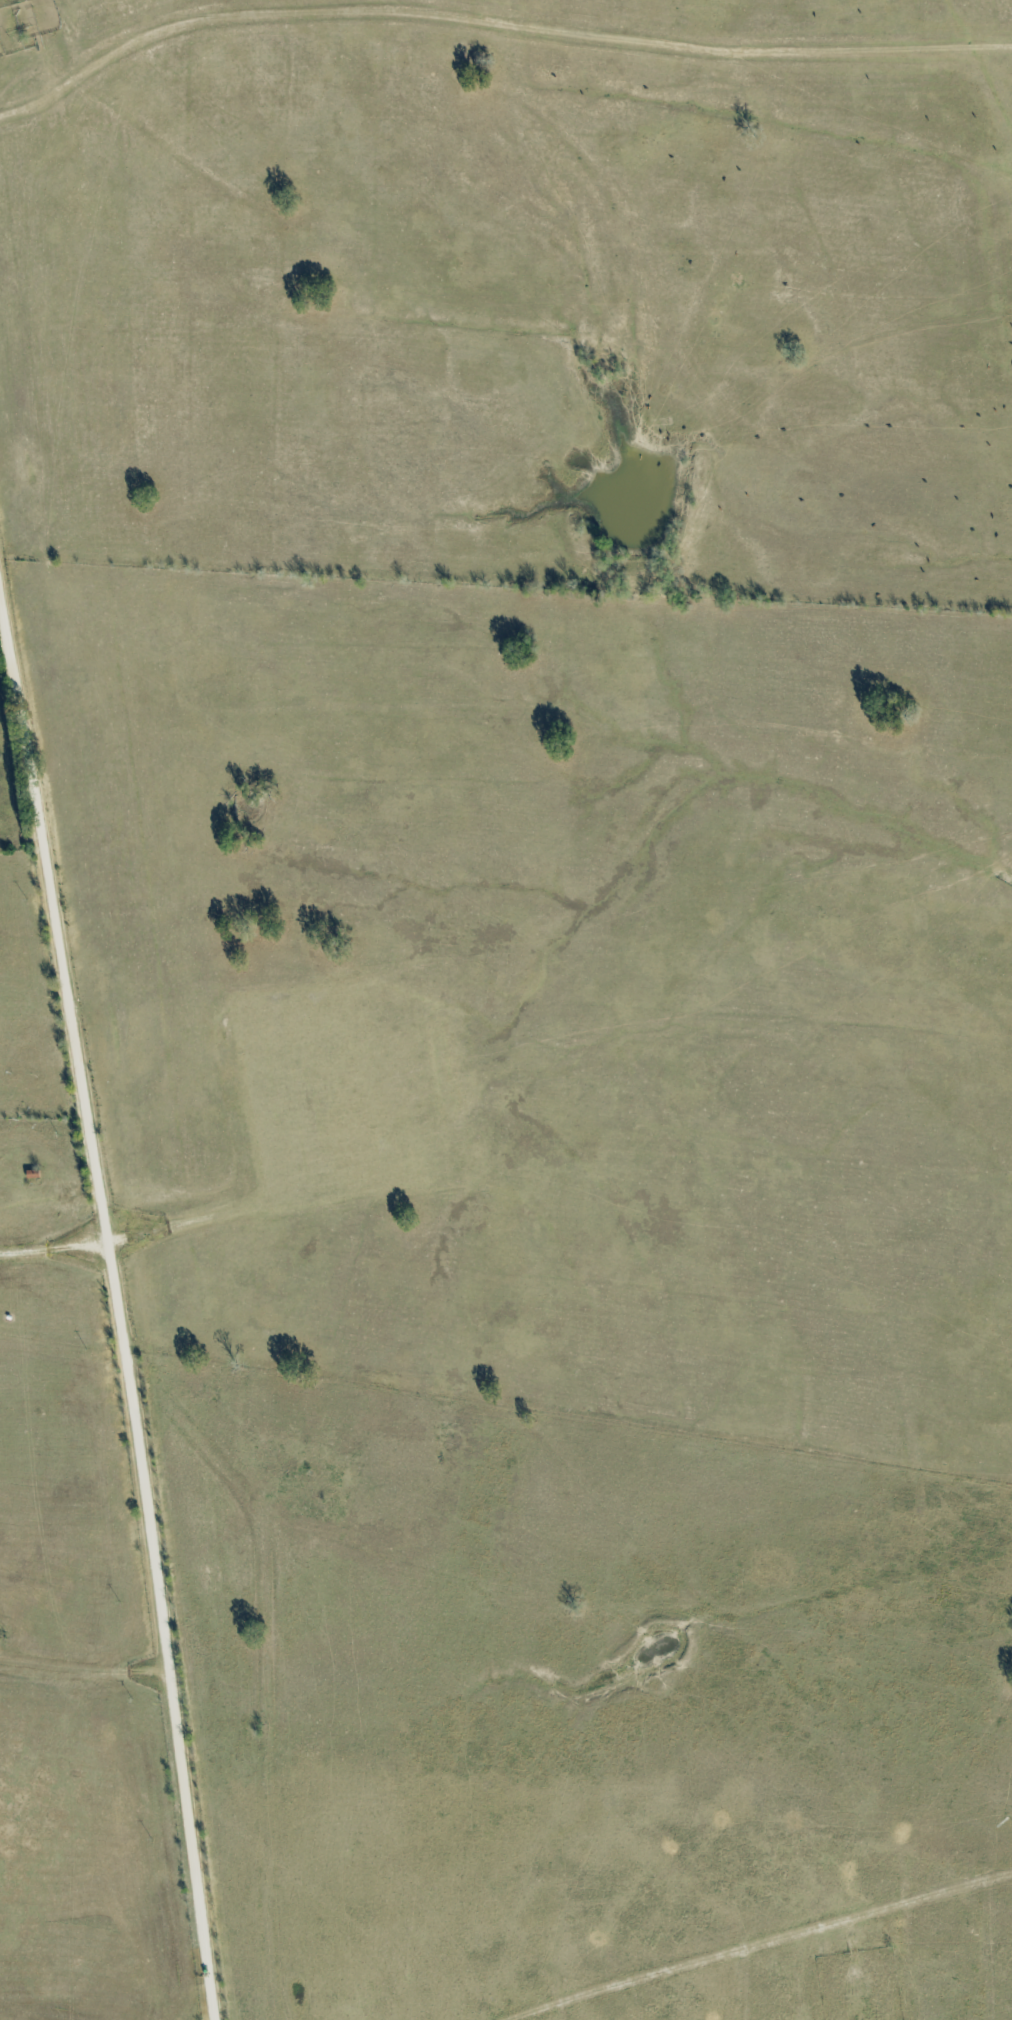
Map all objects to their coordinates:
road: (493, 23)
road: (117, 1304)

